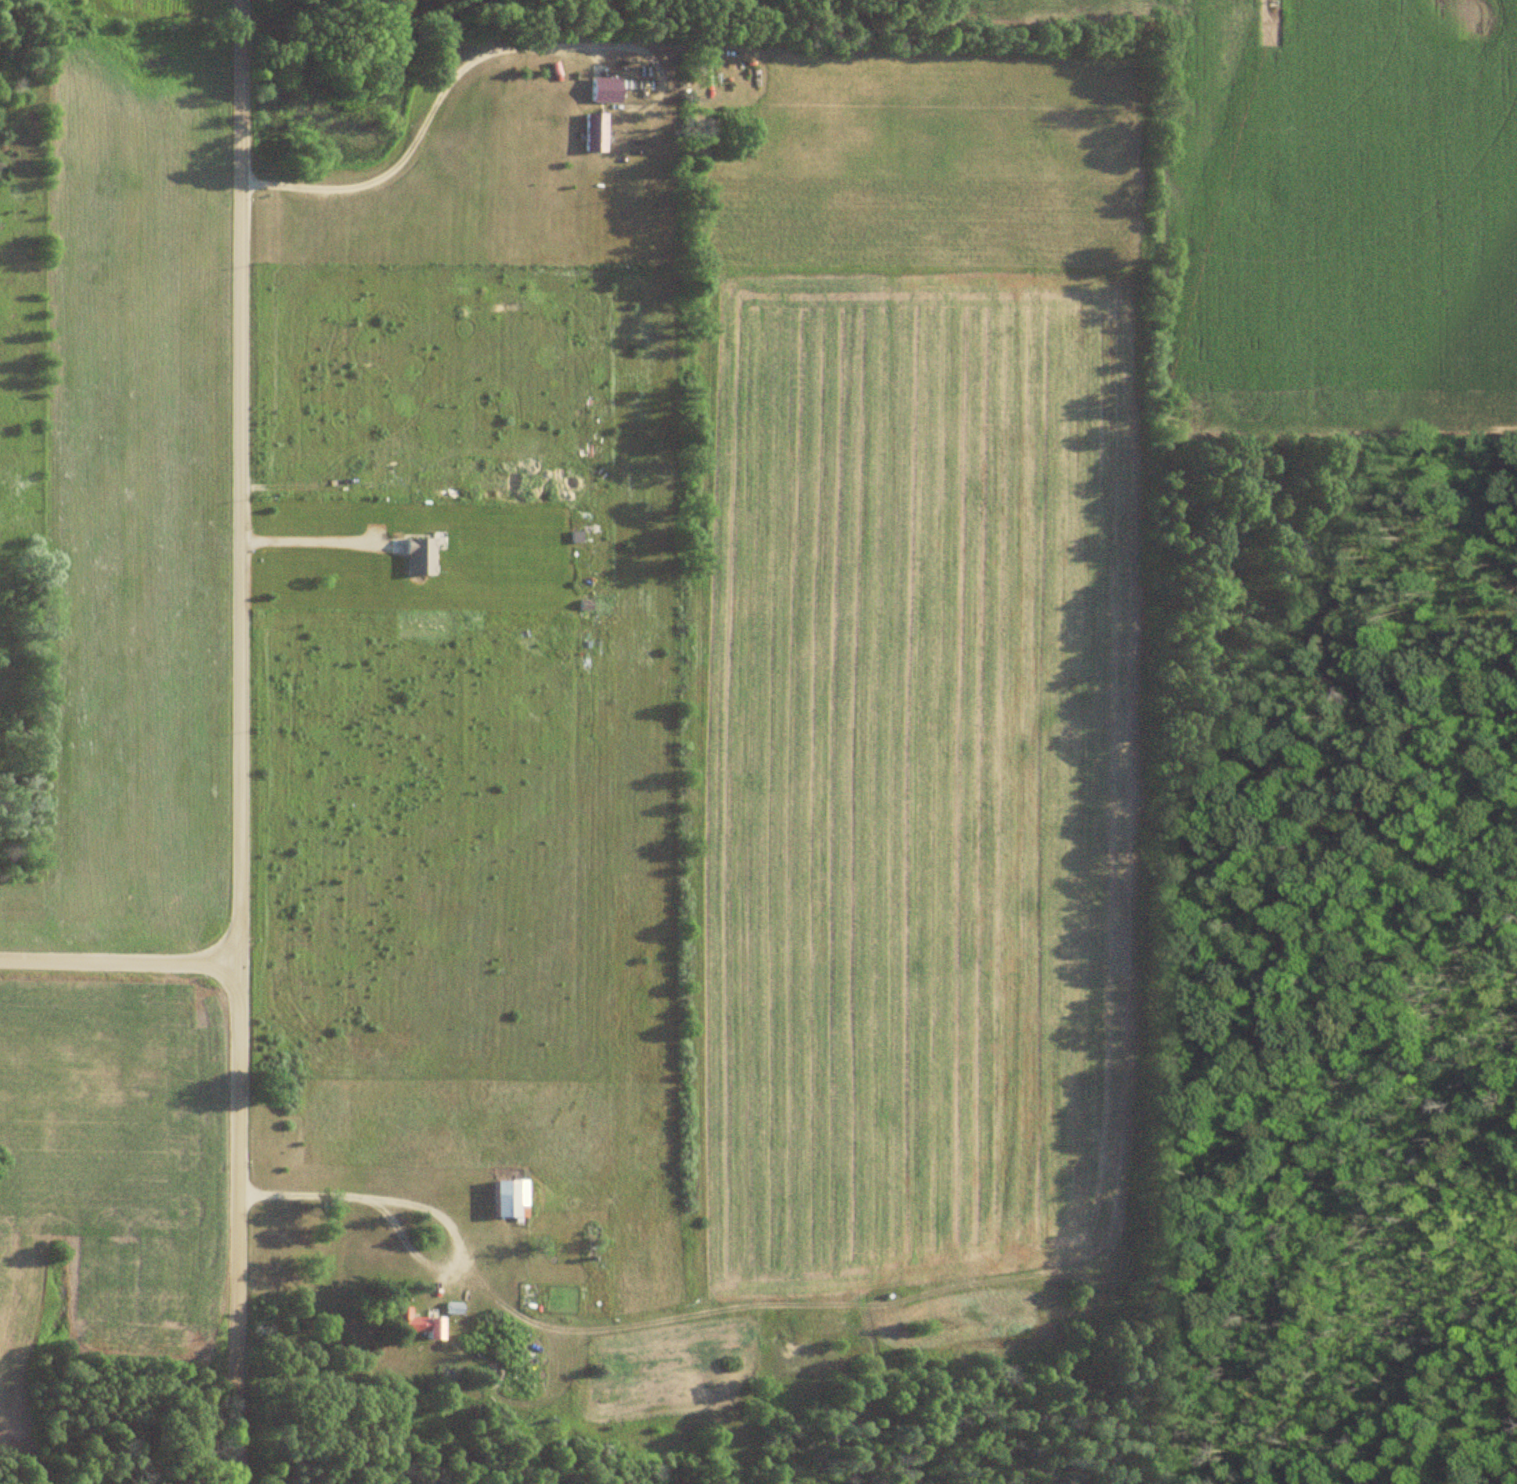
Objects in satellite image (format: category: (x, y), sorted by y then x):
road: (439, 90)
building: (606, 90)
building: (595, 133)
road: (316, 545)
building: (419, 557)
road: (236, 741)
road: (119, 961)
building: (507, 1199)
road: (421, 1203)
building: (451, 1309)
building: (415, 1324)

